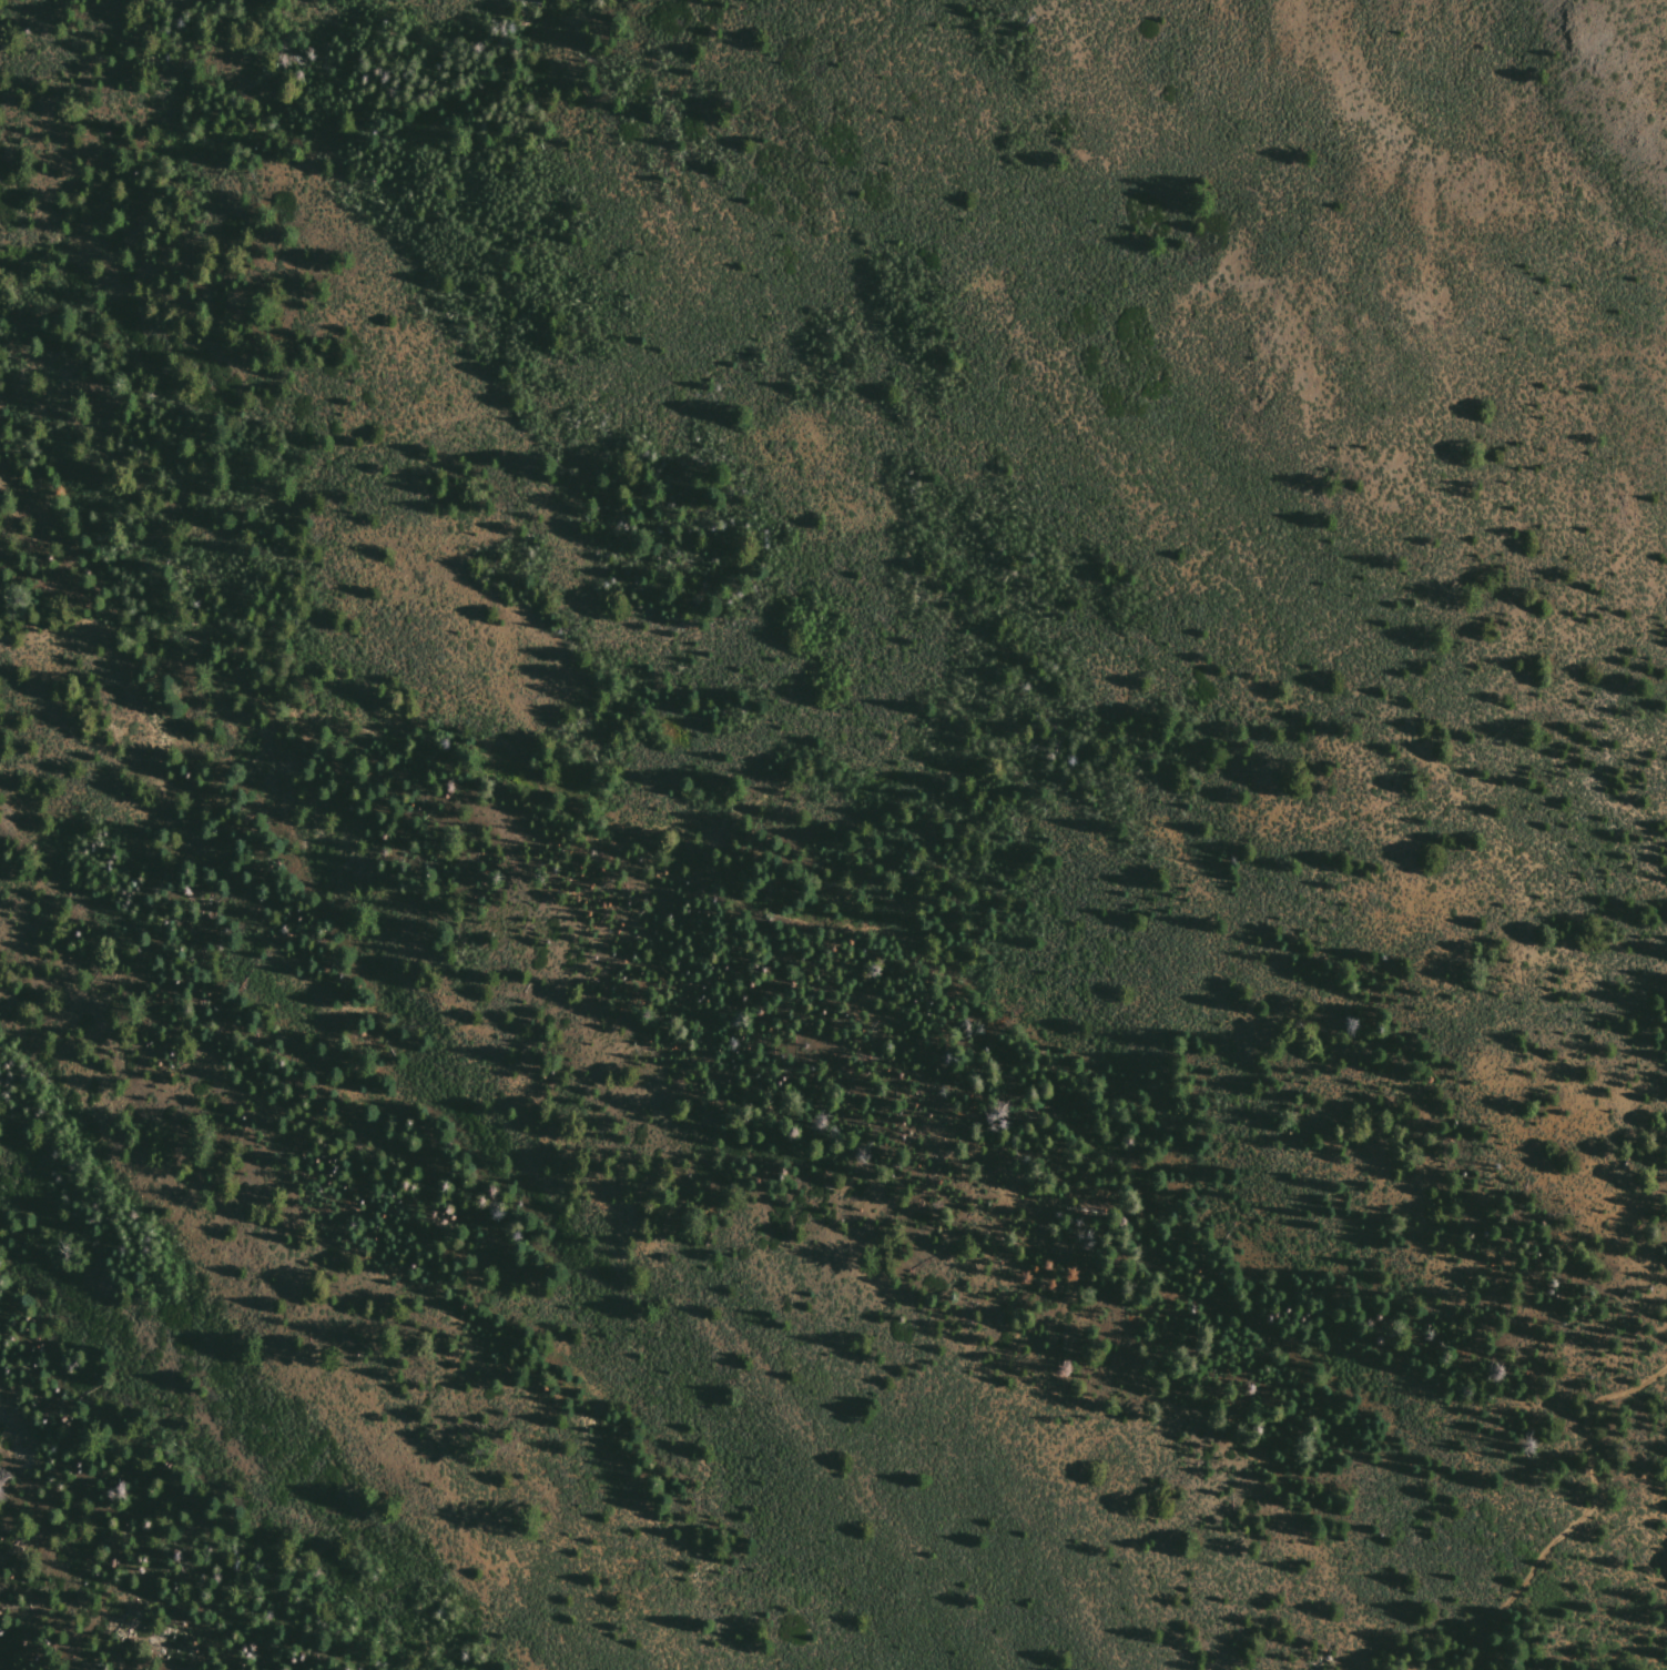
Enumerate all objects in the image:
road: (1584, 1511)

